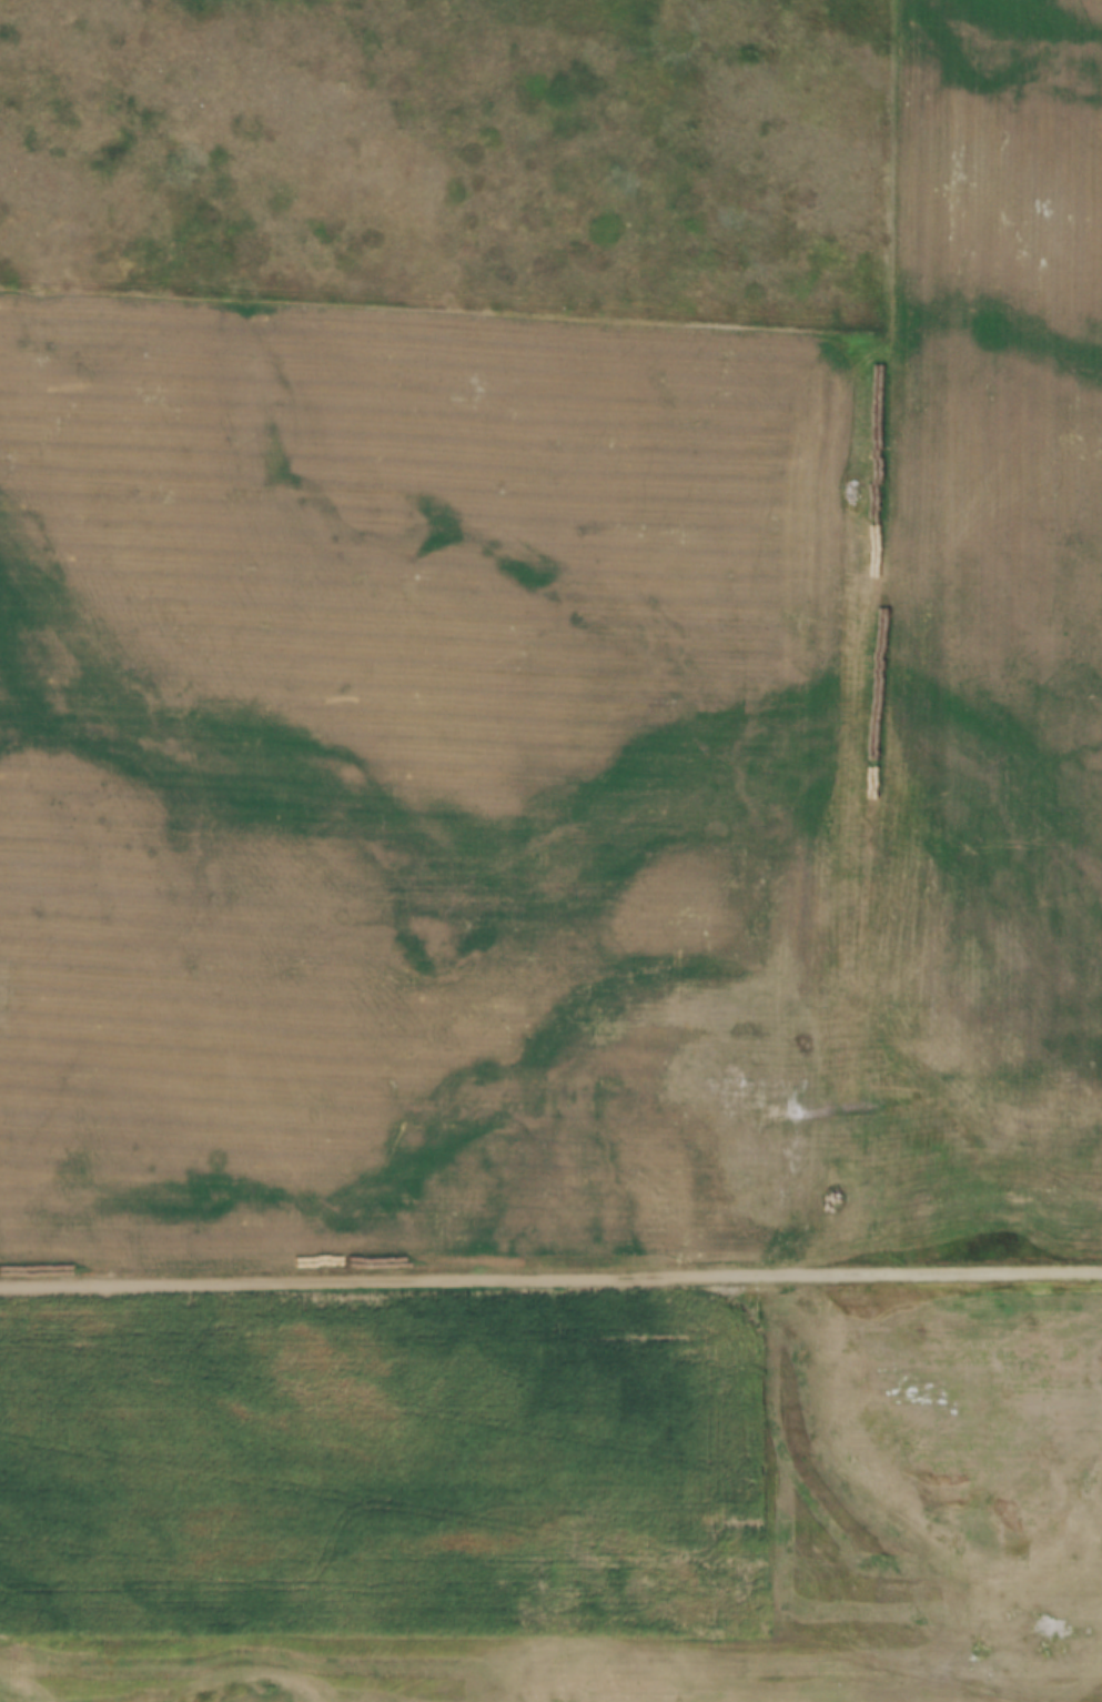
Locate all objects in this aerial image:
road: (550, 1277)

